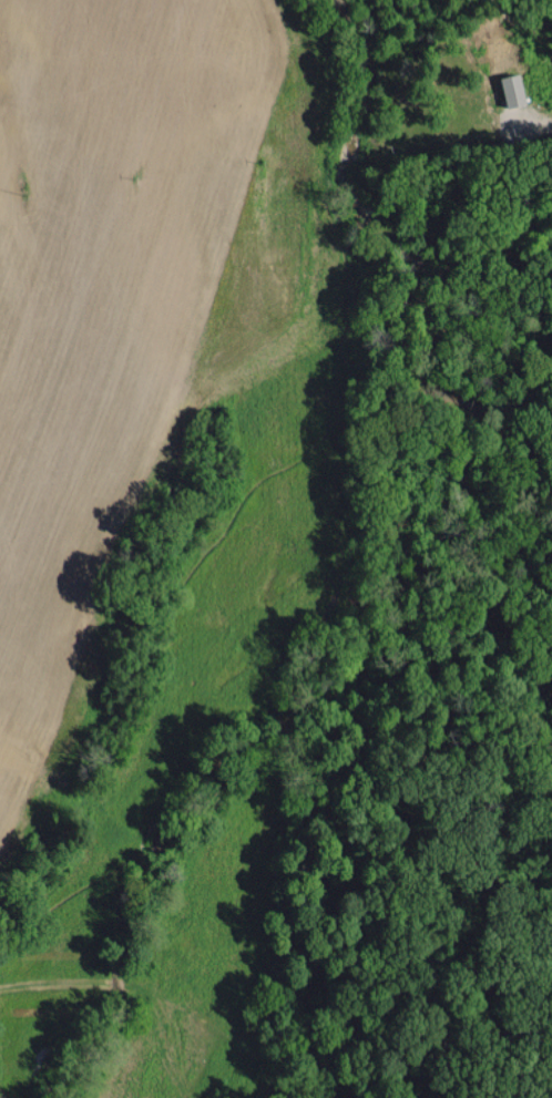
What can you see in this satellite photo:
building: (514, 89)

